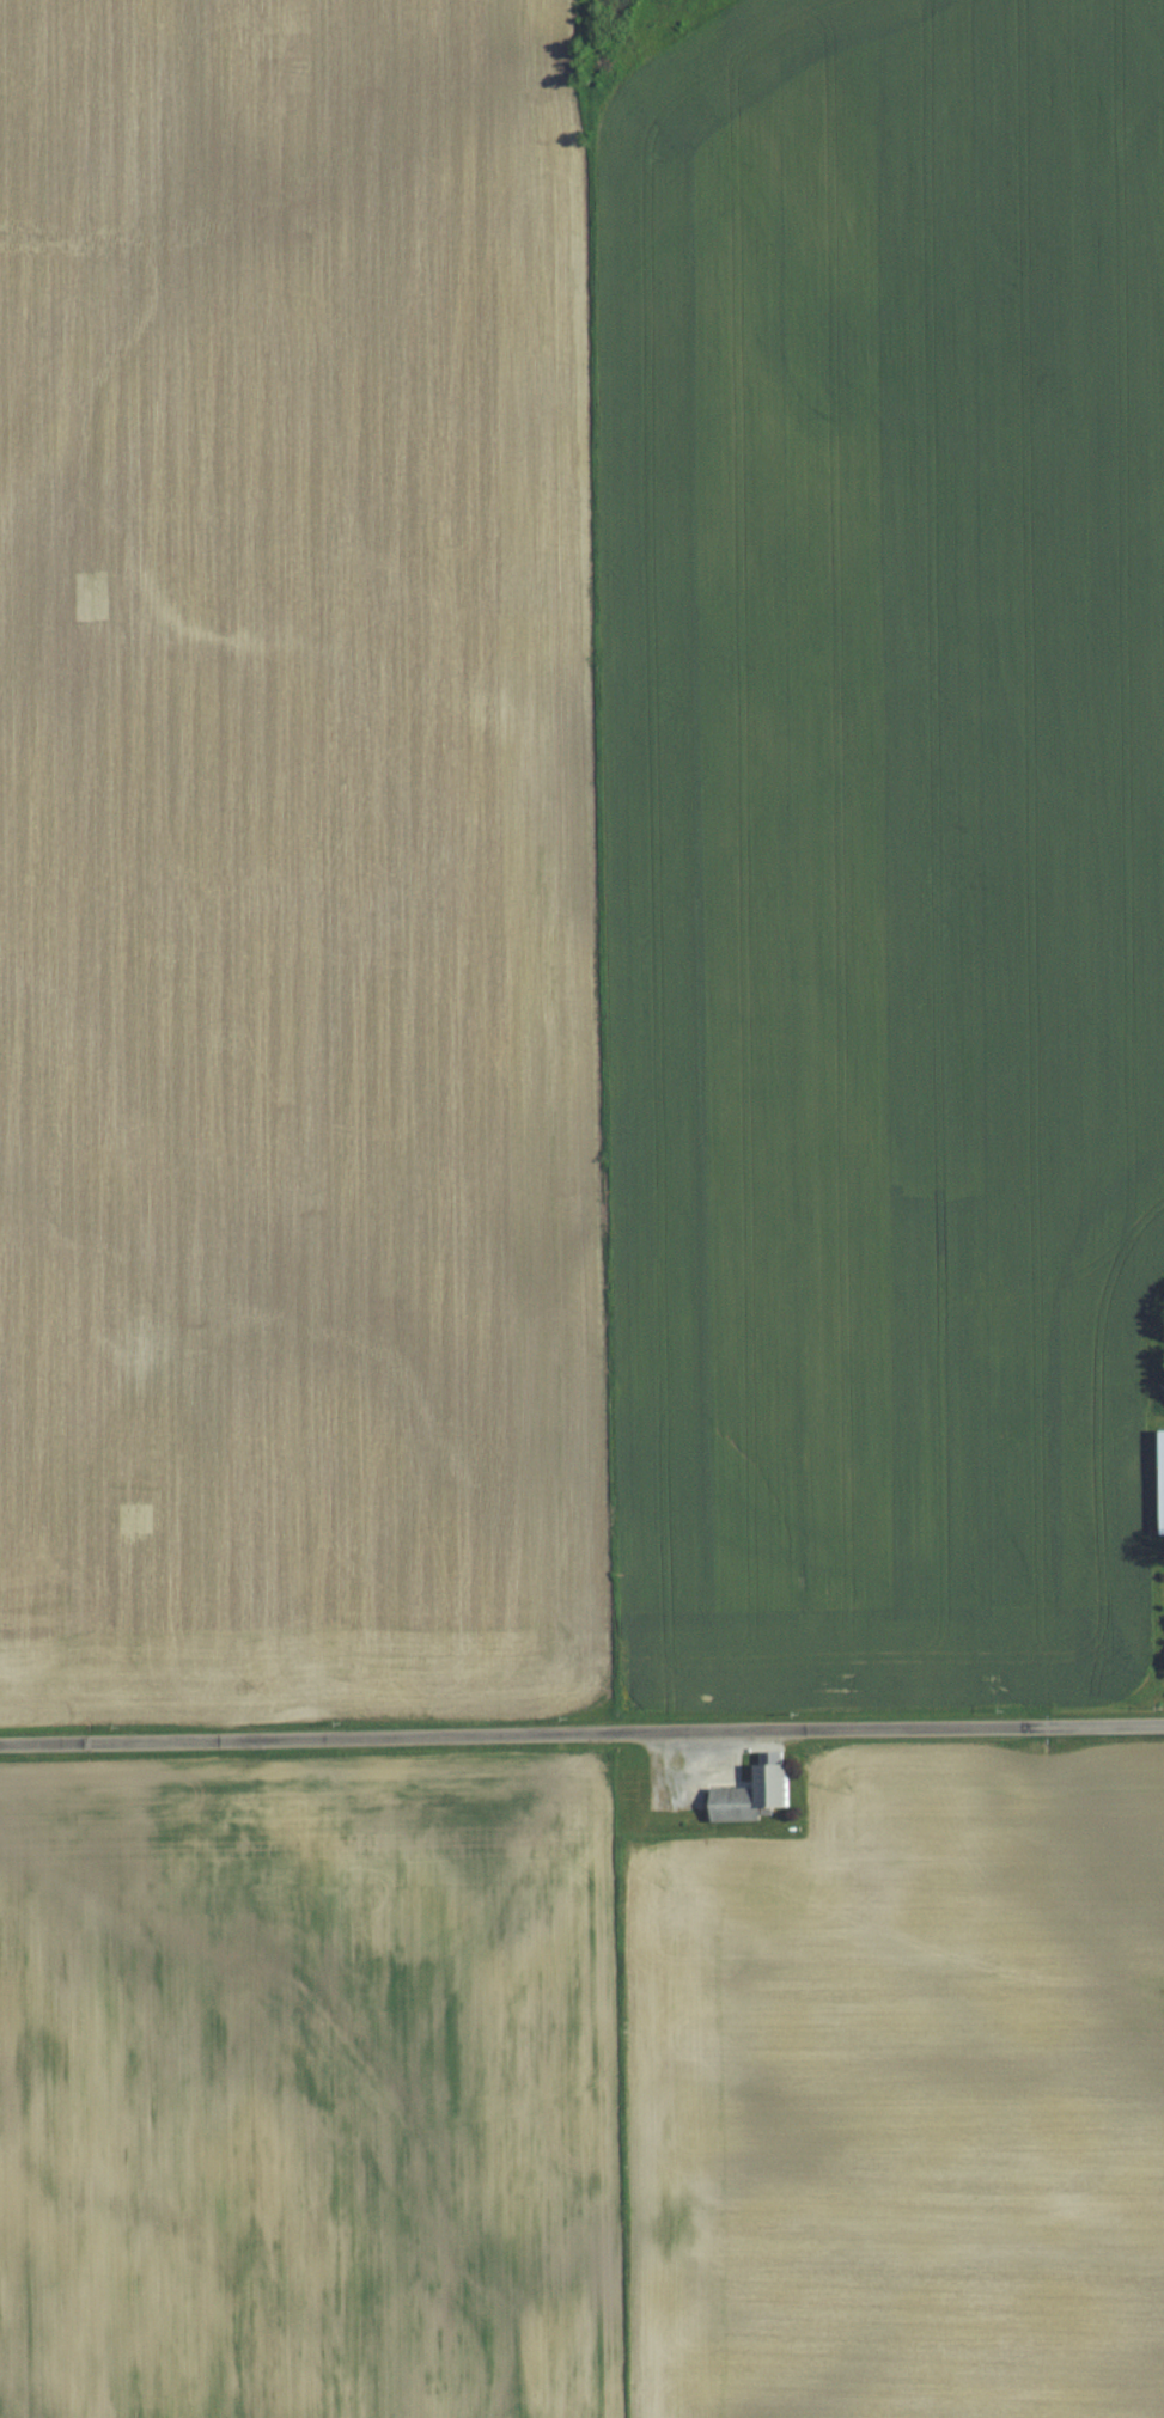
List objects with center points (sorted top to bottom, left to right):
road: (581, 1734)
building: (760, 1793)

